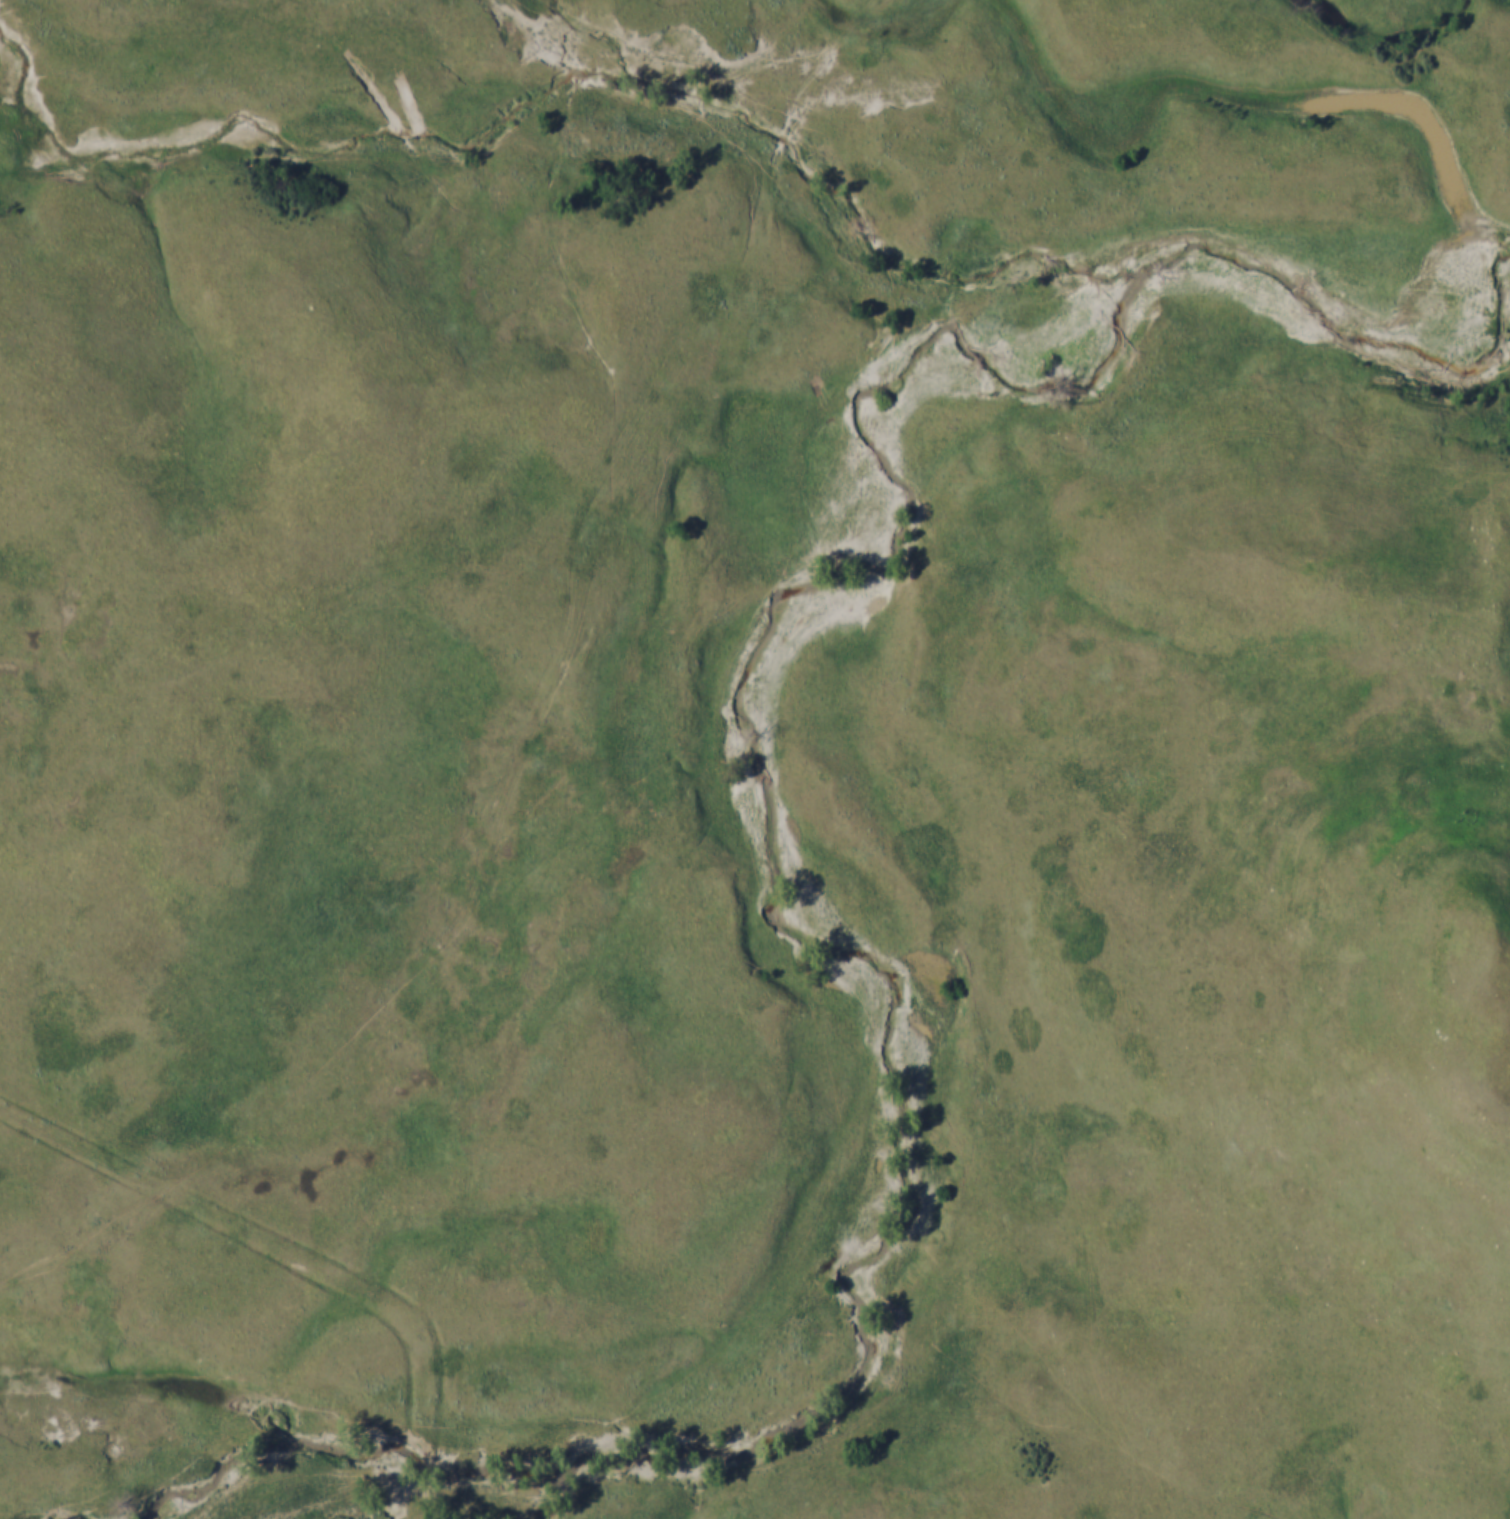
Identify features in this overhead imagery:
road: (251, 1229)
road: (426, 1454)
road: (422, 1507)

